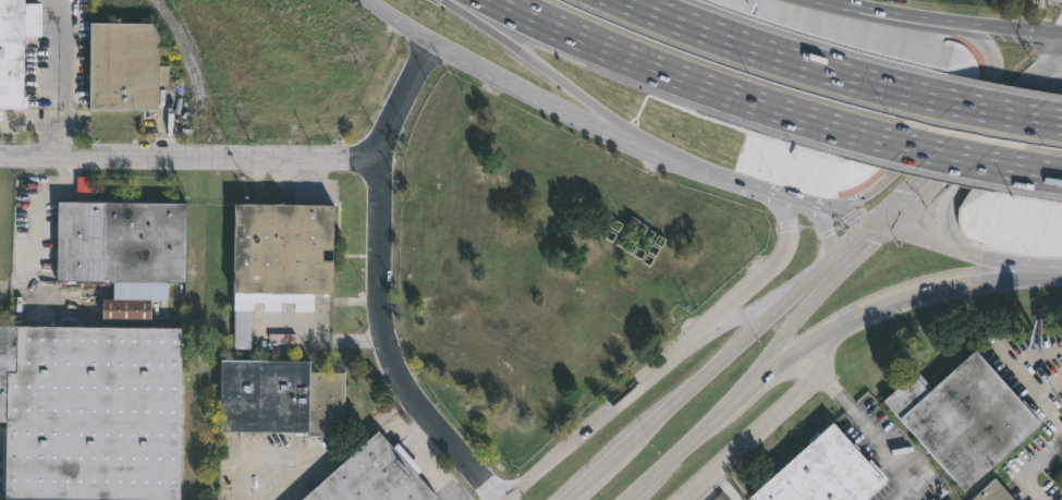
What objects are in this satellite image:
road: (850, 2)
road: (889, 14)
road: (1038, 16)
road: (415, 29)
road: (1006, 31)
road: (1061, 34)
road: (1061, 37)
road: (1061, 40)
building: (14, 46)
road: (772, 59)
railway: (191, 64)
building: (120, 65)
road: (549, 71)
traffic signals: (1057, 75)
road: (692, 82)
road: (68, 87)
road: (552, 105)
road: (984, 108)
road: (1051, 120)
road: (968, 131)
road: (936, 135)
road: (978, 146)
road: (944, 154)
road: (191, 156)
road: (985, 167)
road: (1032, 171)
road: (722, 180)
traffic signals: (901, 191)
road: (837, 210)
traffic signals: (849, 214)
road: (879, 221)
road: (823, 229)
road: (46, 231)
traffic signals: (870, 243)
road: (783, 249)
building: (121, 252)
road: (973, 254)
building: (278, 258)
road: (376, 283)
road: (821, 292)
road: (905, 298)
road: (743, 315)
road: (729, 351)
building: (280, 398)
road: (619, 403)
road: (1043, 404)
building: (89, 412)
building: (963, 418)
road: (366, 422)
road: (764, 426)
road: (693, 432)
road: (875, 437)
road: (298, 452)
road: (419, 458)
building: (823, 473)
building: (373, 476)
road: (575, 490)
building: (992, 492)
road: (440, 495)
building: (1020, 499)

